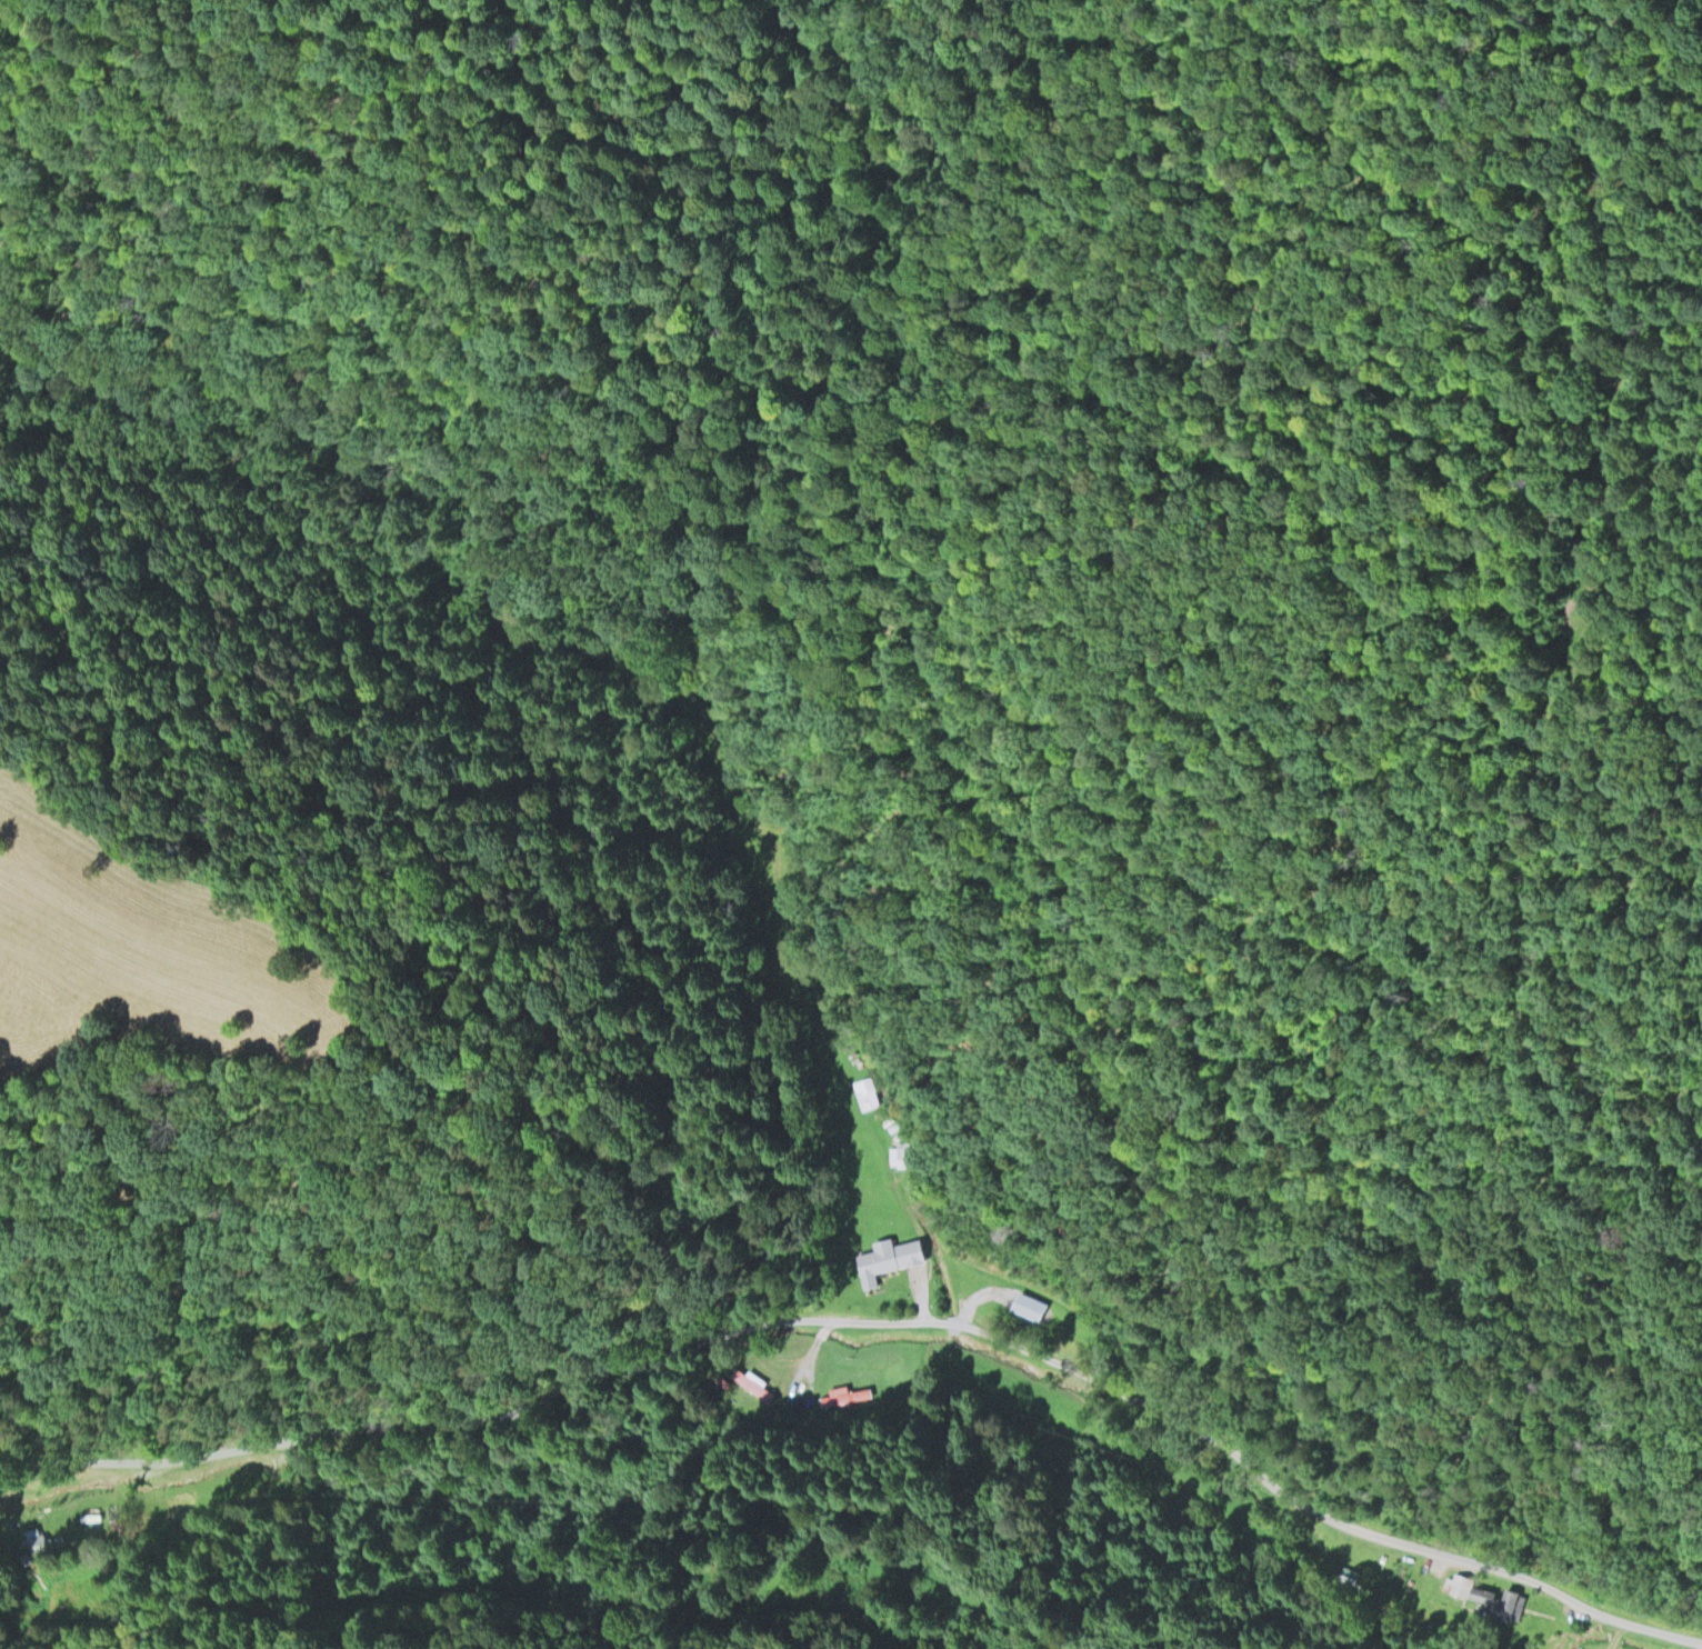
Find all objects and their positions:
building: (867, 1092)
building: (900, 1155)
building: (889, 1259)
building: (1028, 1305)
road: (874, 1322)
road: (832, 1323)
road: (825, 1330)
road: (810, 1356)
building: (754, 1383)
building: (848, 1395)
building: (38, 1539)
building: (1350, 1572)
crop: (888, 1591)
building: (1489, 1596)

